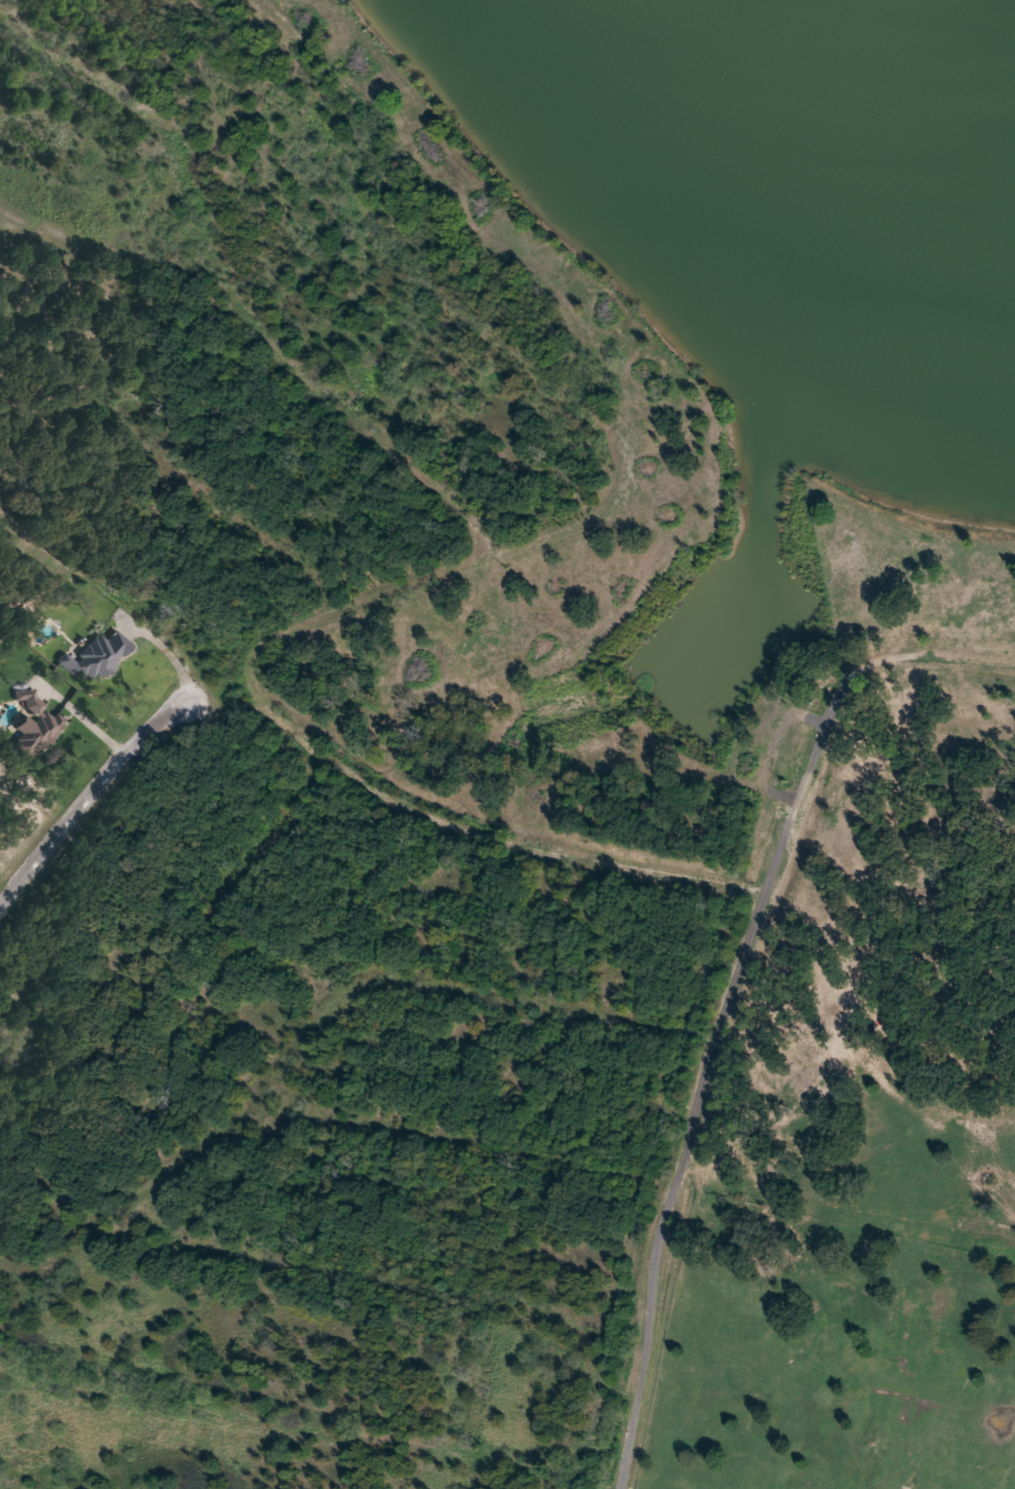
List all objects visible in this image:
road: (500, 535)
building: (95, 656)
building: (39, 720)
road: (351, 768)
road: (88, 795)
road: (727, 992)
building: (1004, 1251)

